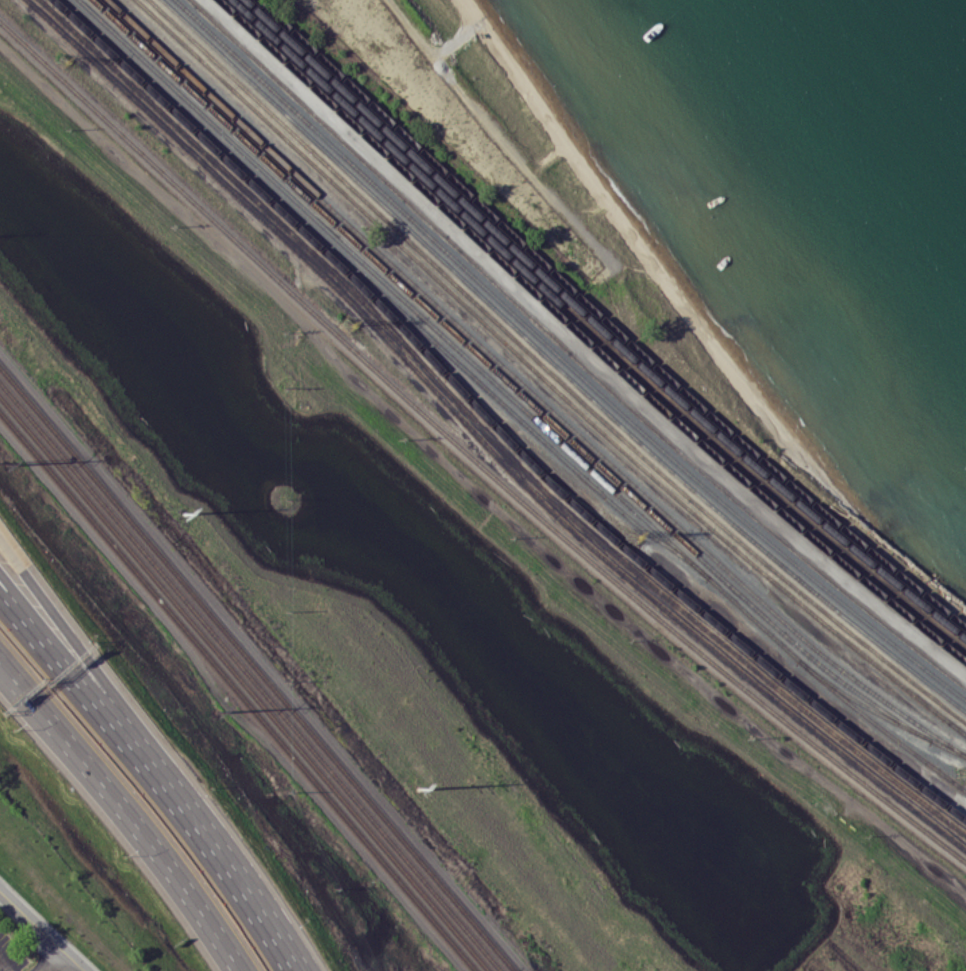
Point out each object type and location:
railway: (383, 293)
railway: (606, 321)
railway: (598, 327)
railway: (592, 333)
railway: (585, 339)
road: (579, 343)
railway: (570, 352)
railway: (563, 359)
railway: (555, 365)
railway: (549, 371)
railway: (542, 377)
railway: (504, 379)
railway: (528, 388)
railway: (517, 402)
railway: (495, 426)
railway: (487, 434)
railway: (482, 441)
railway: (470, 456)
road: (16, 604)
road: (16, 610)
railway: (257, 667)
road: (98, 675)
railway: (250, 676)
railway: (244, 684)
railway: (238, 690)
road: (29, 696)
road: (29, 703)
railway: (878, 713)
road: (113, 723)
road: (155, 847)
road: (248, 892)
road: (41, 930)
road: (51, 961)

